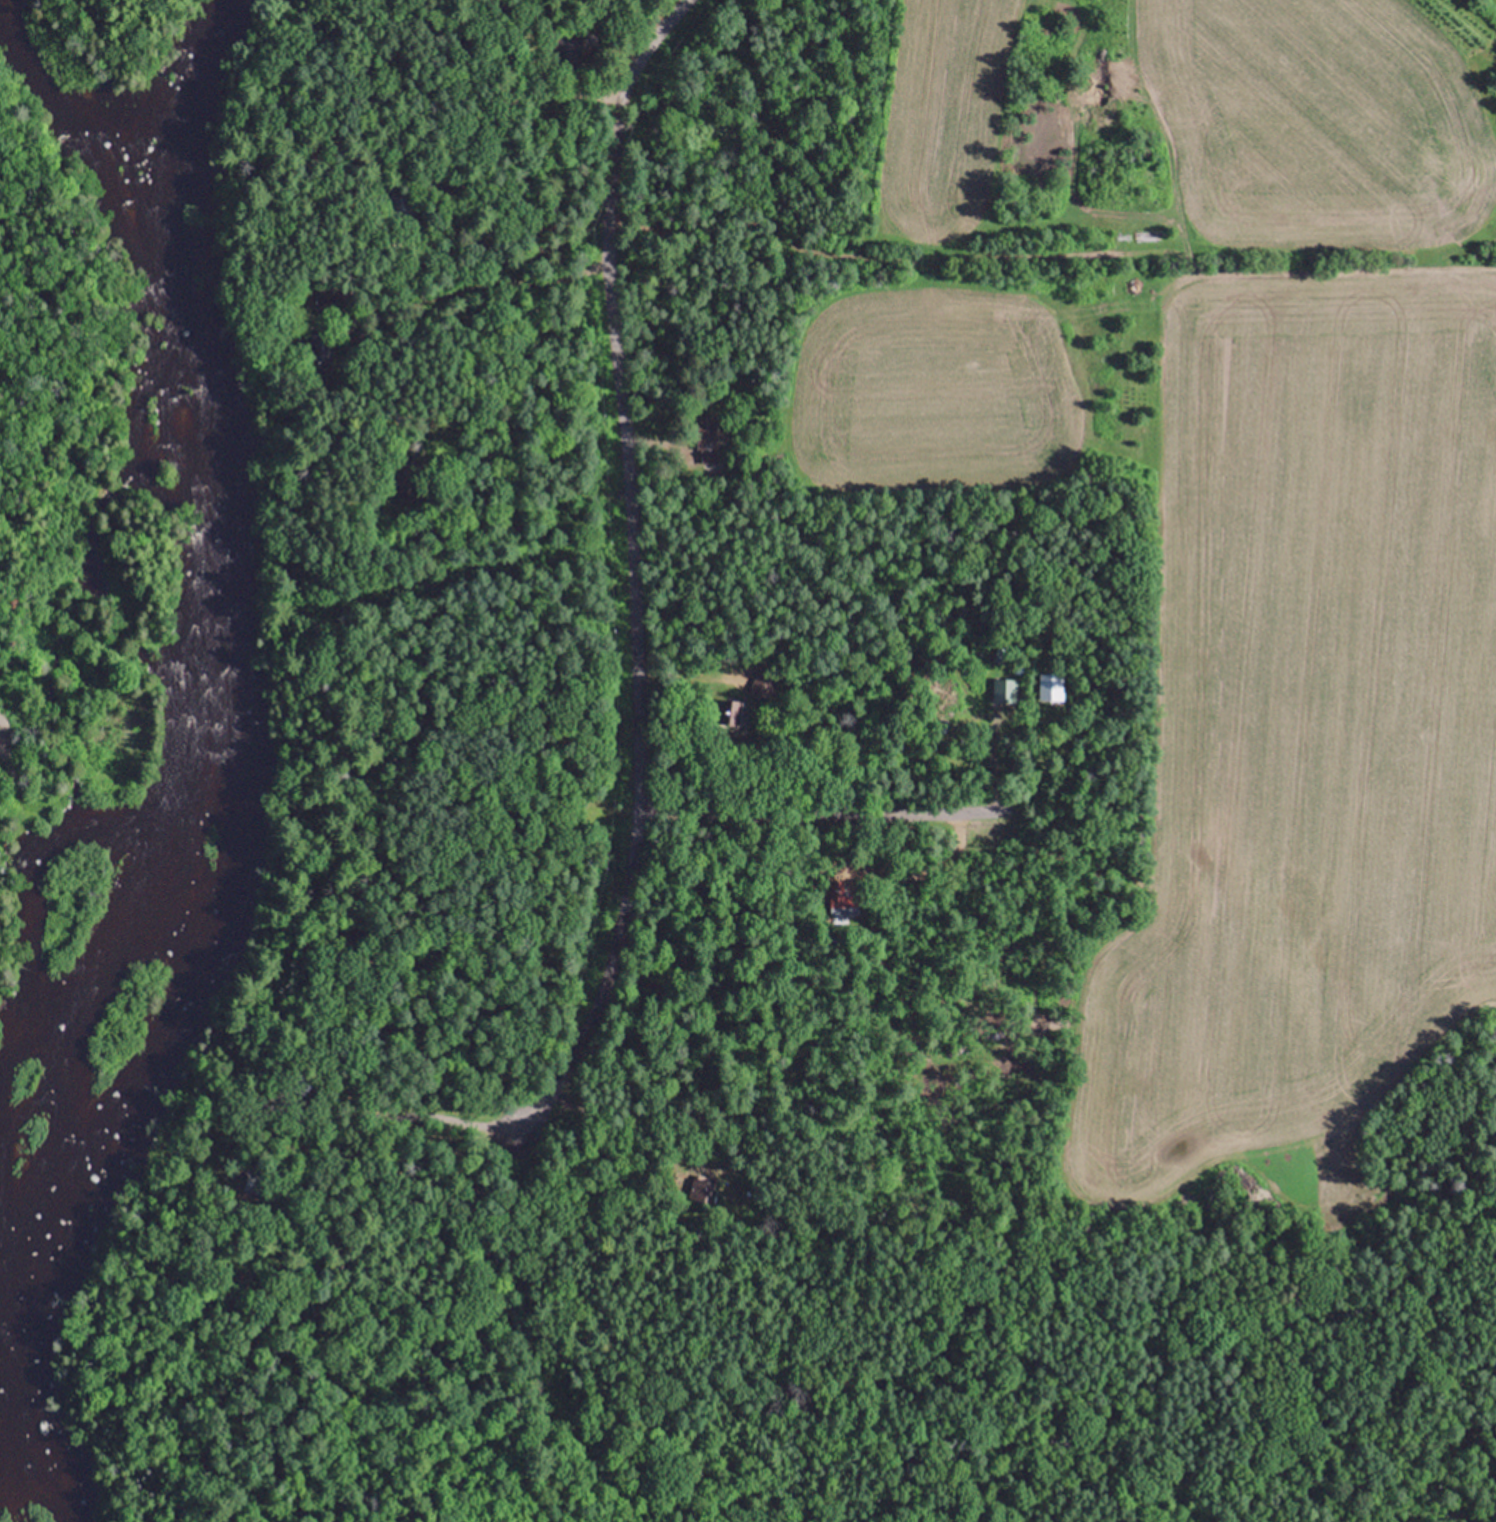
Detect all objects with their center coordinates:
building: (388, 200)
river: (169, 288)
building: (312, 342)
building: (706, 440)
road: (627, 575)
crop: (1249, 673)
building: (1004, 688)
river: (239, 755)
road: (813, 807)
river: (118, 1148)
road: (536, 1341)

